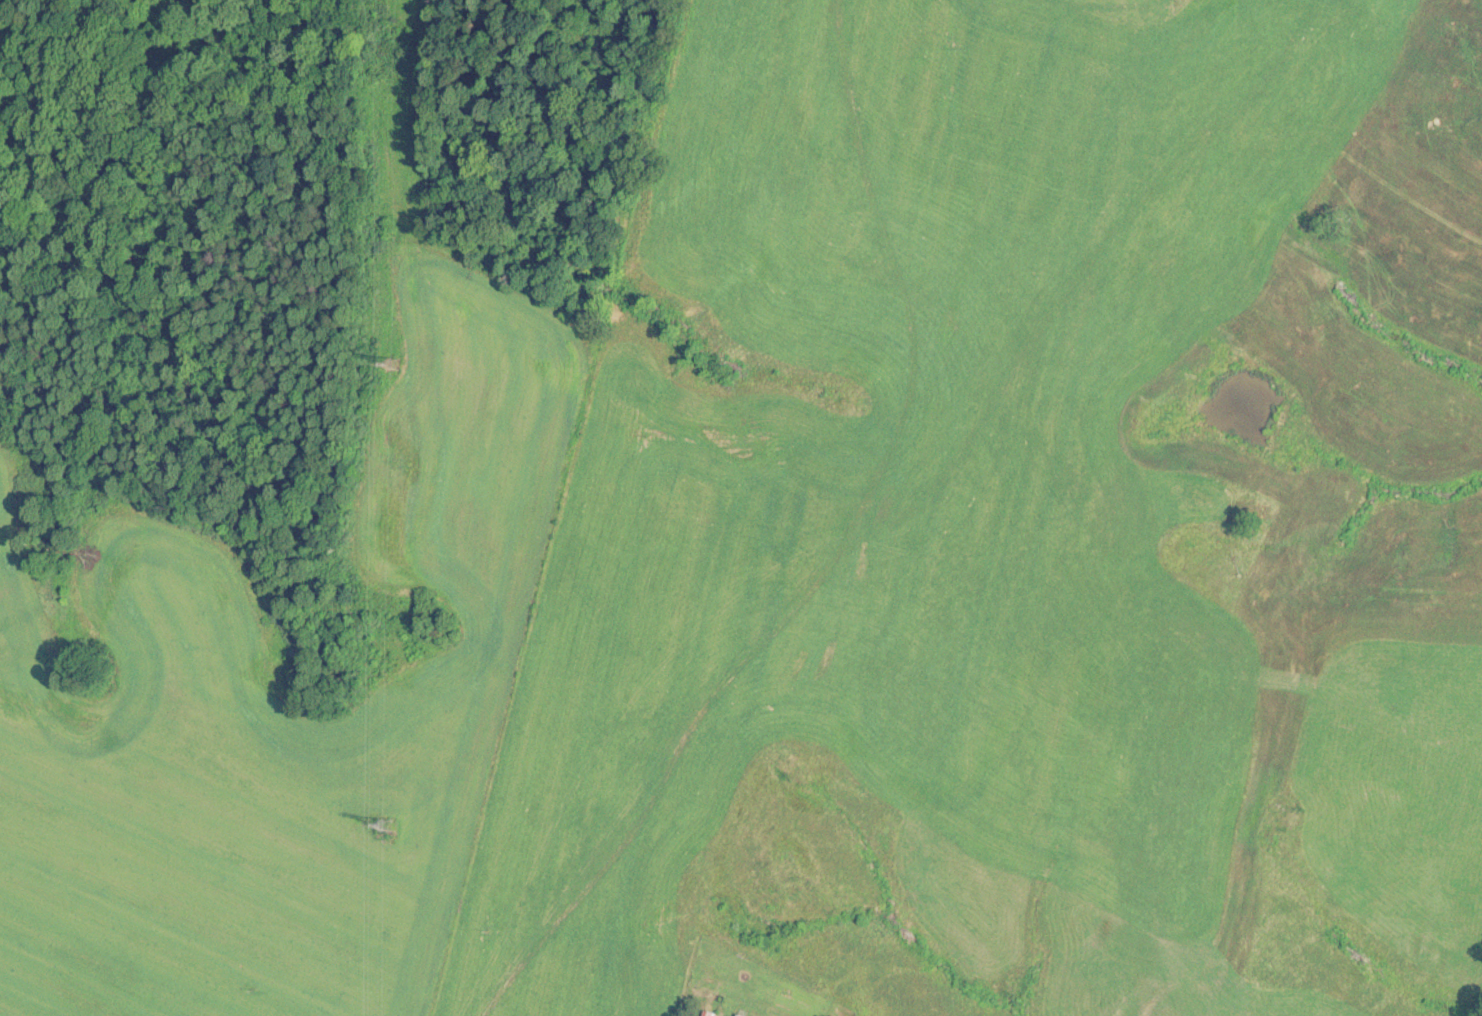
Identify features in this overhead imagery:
power tower: (390, 356)
power tower: (391, 827)
building: (713, 1014)

